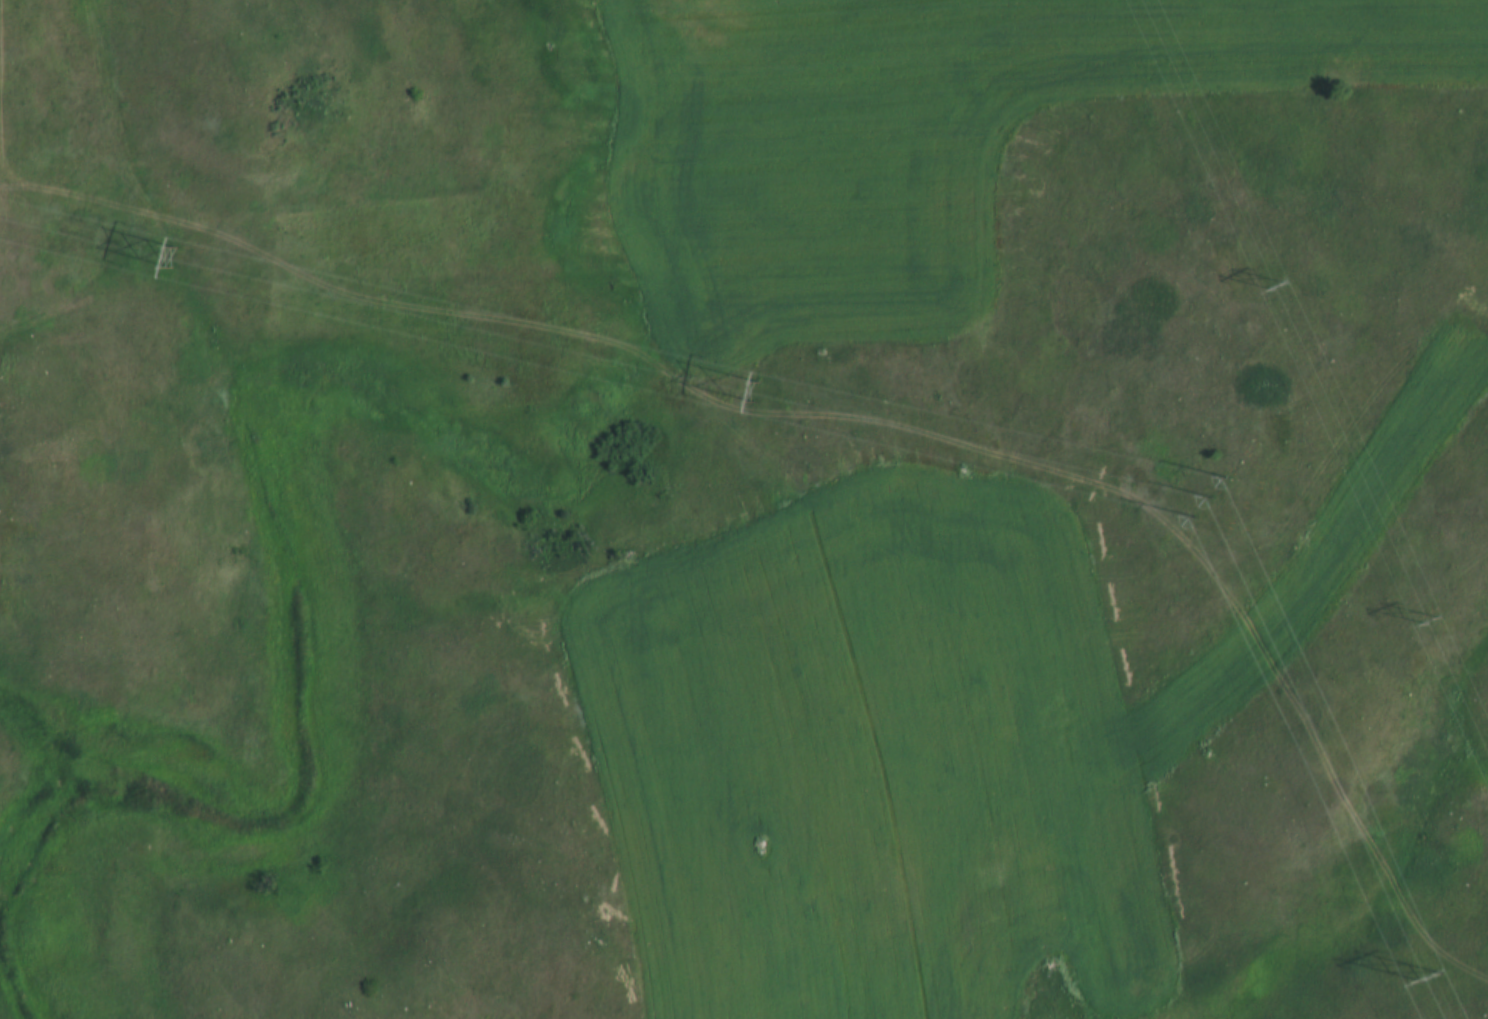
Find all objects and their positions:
power tower: (1266, 293)
power tower: (1410, 623)

